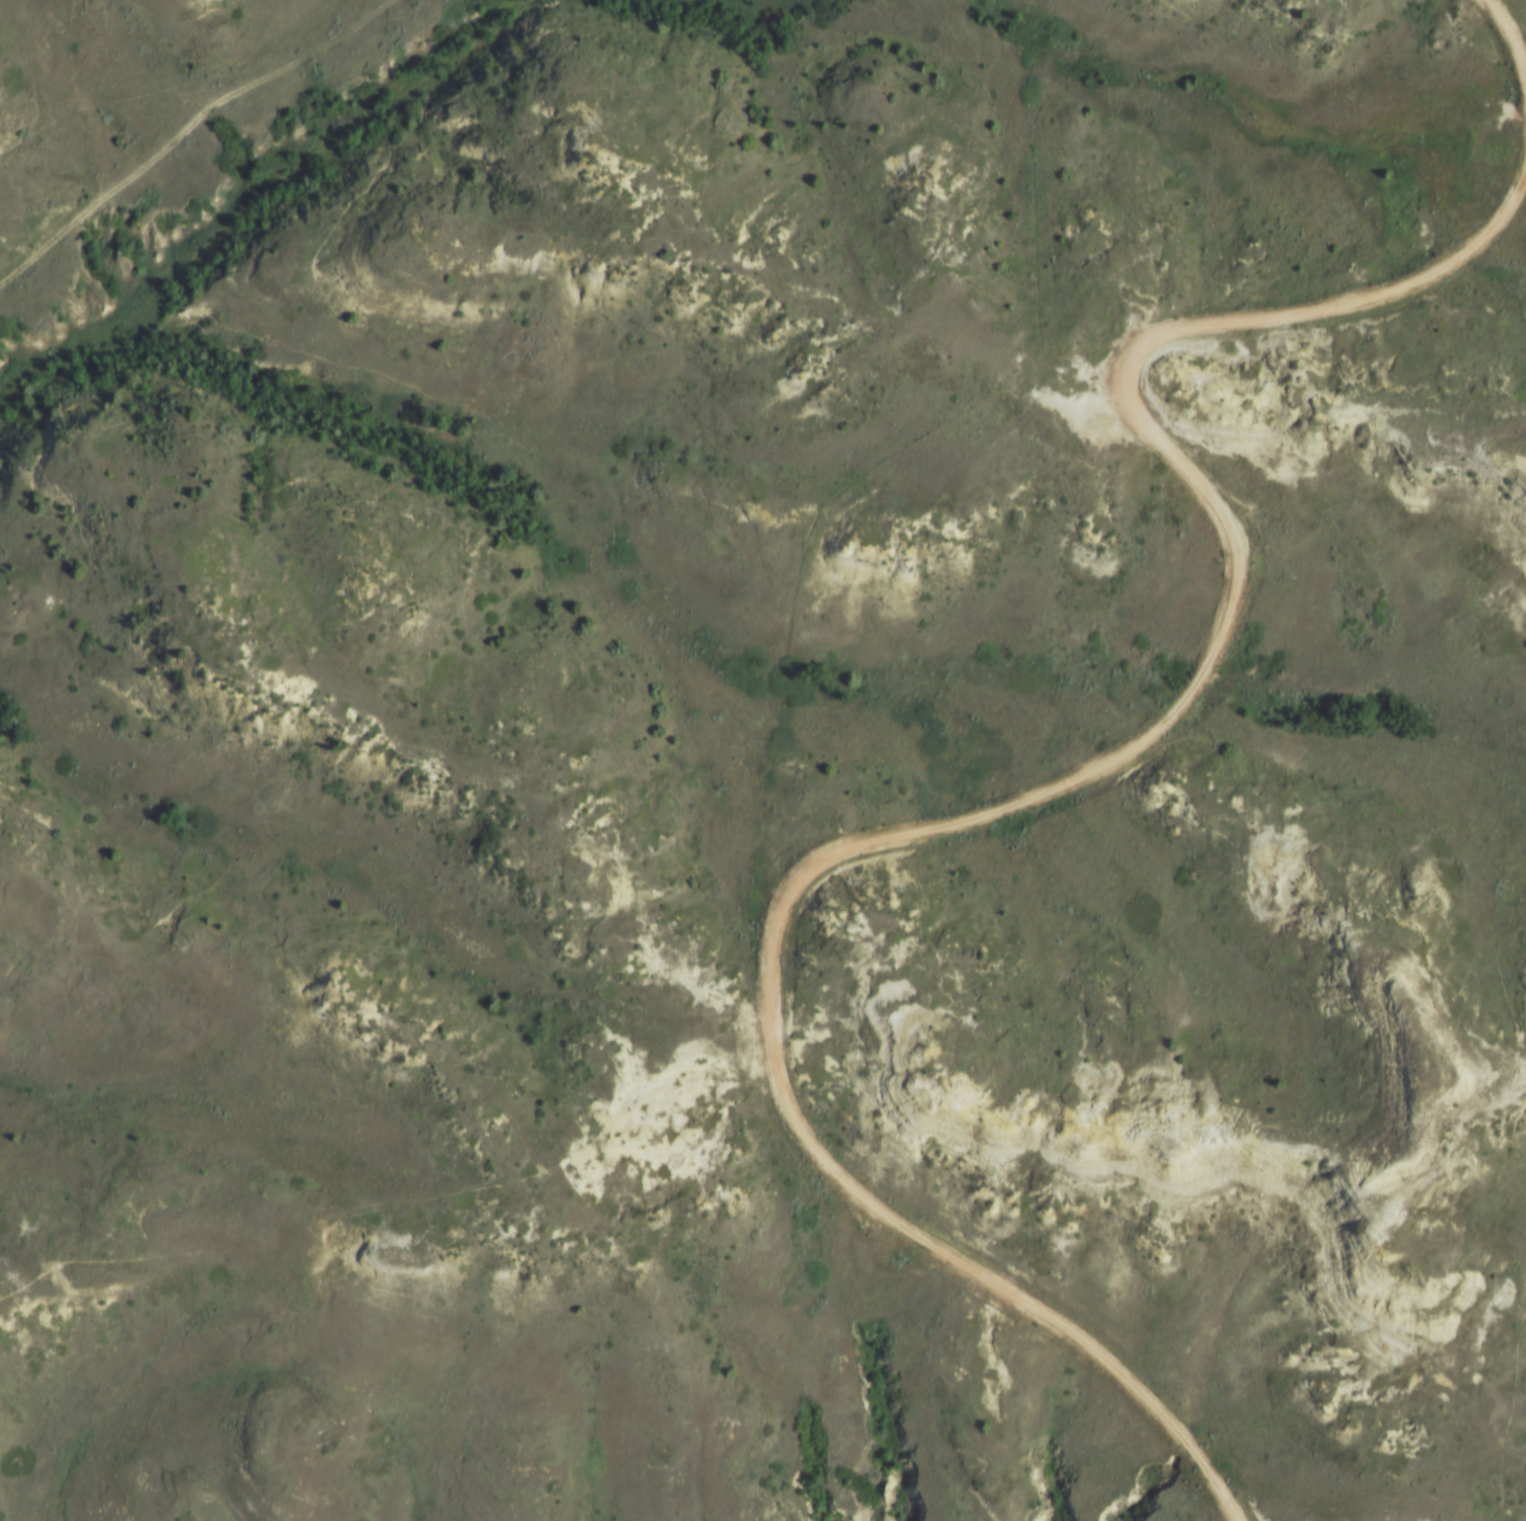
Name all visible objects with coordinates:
road: (1509, 46)
road: (186, 127)
road: (1002, 808)

